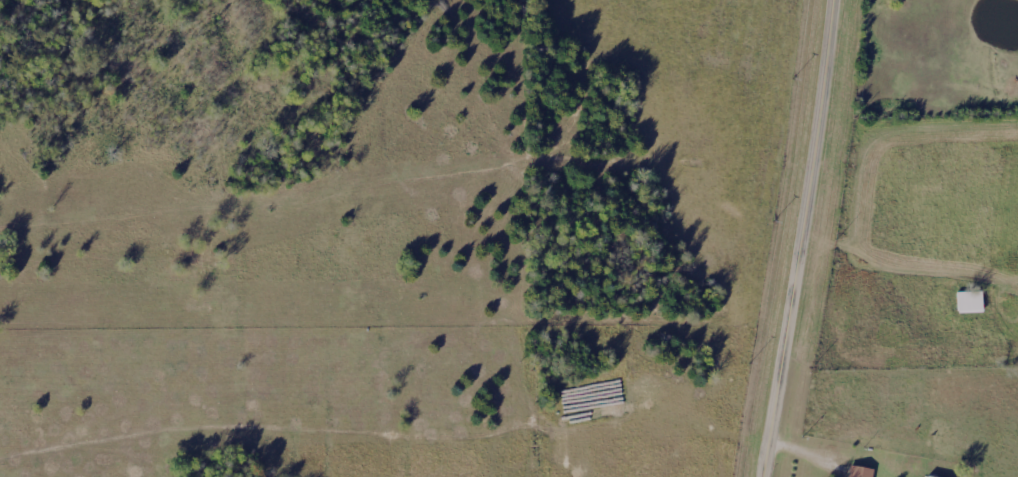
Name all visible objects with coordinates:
road: (804, 238)
road: (880, 262)
building: (966, 304)
road: (814, 446)
building: (855, 472)
building: (932, 476)

